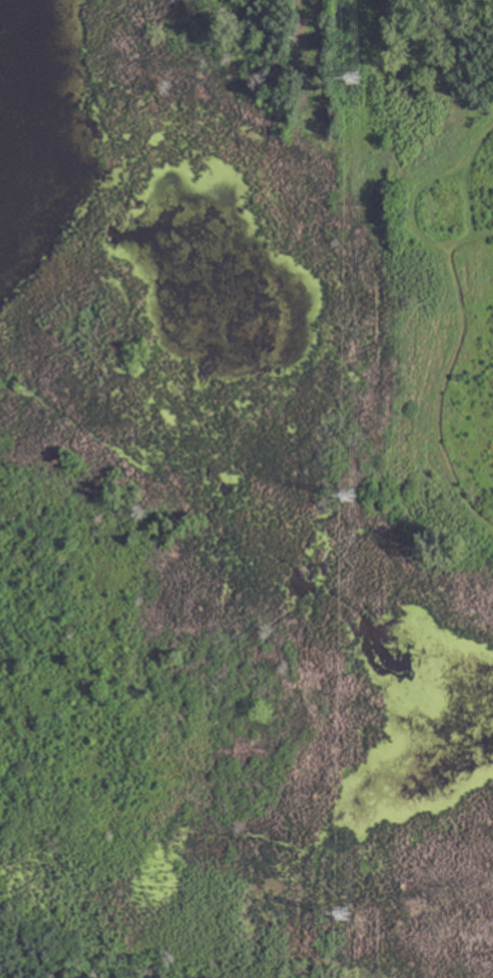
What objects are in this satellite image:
crop: (445, 21)
power tower: (348, 80)
power tower: (344, 497)
power tower: (340, 912)

